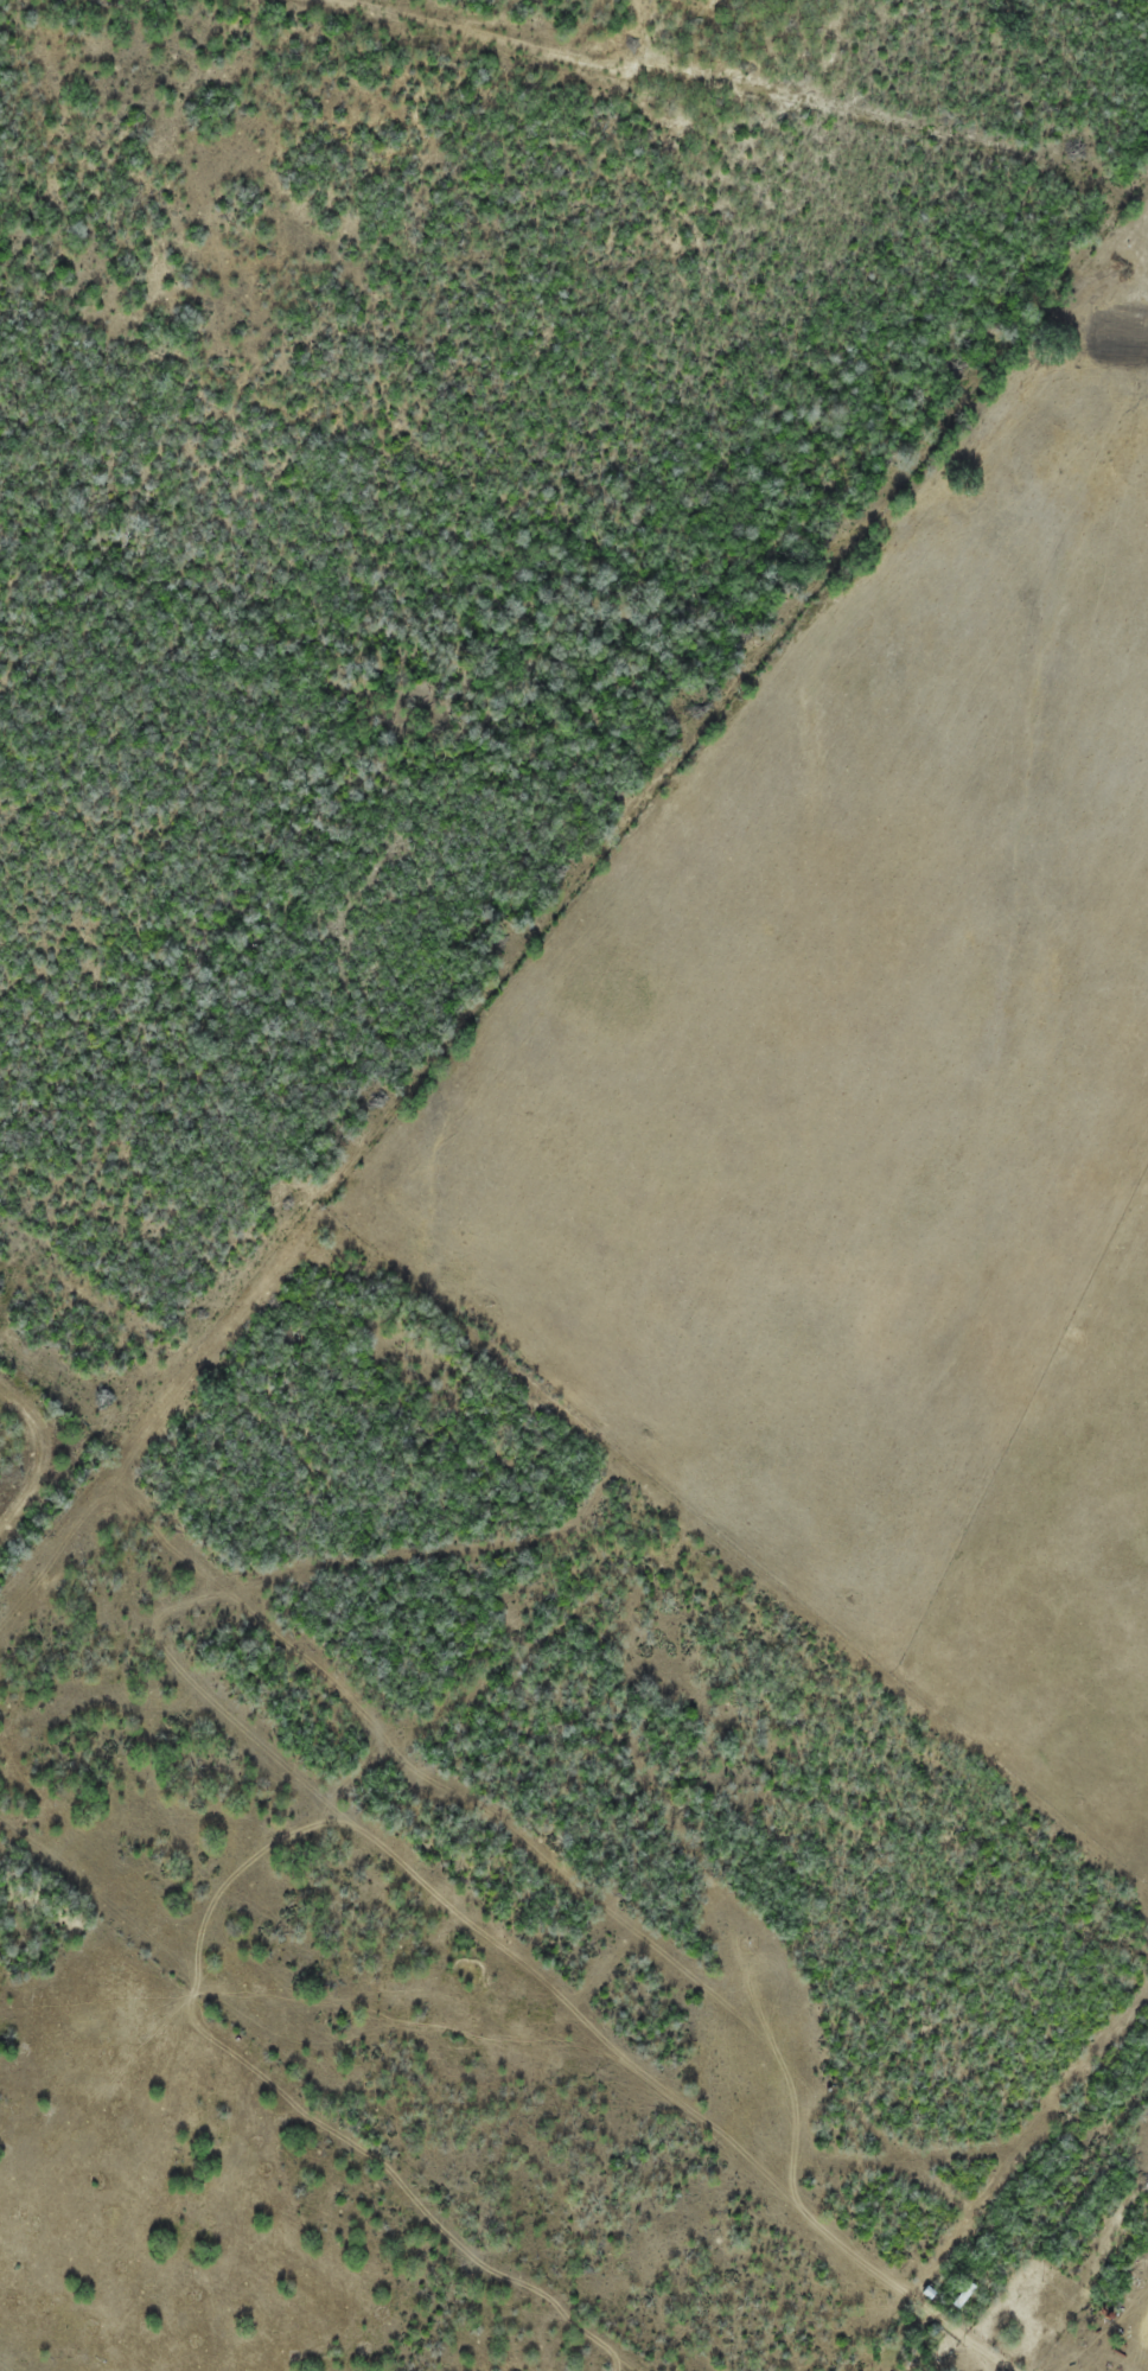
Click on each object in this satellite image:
building: (963, 2294)
road: (981, 2353)

